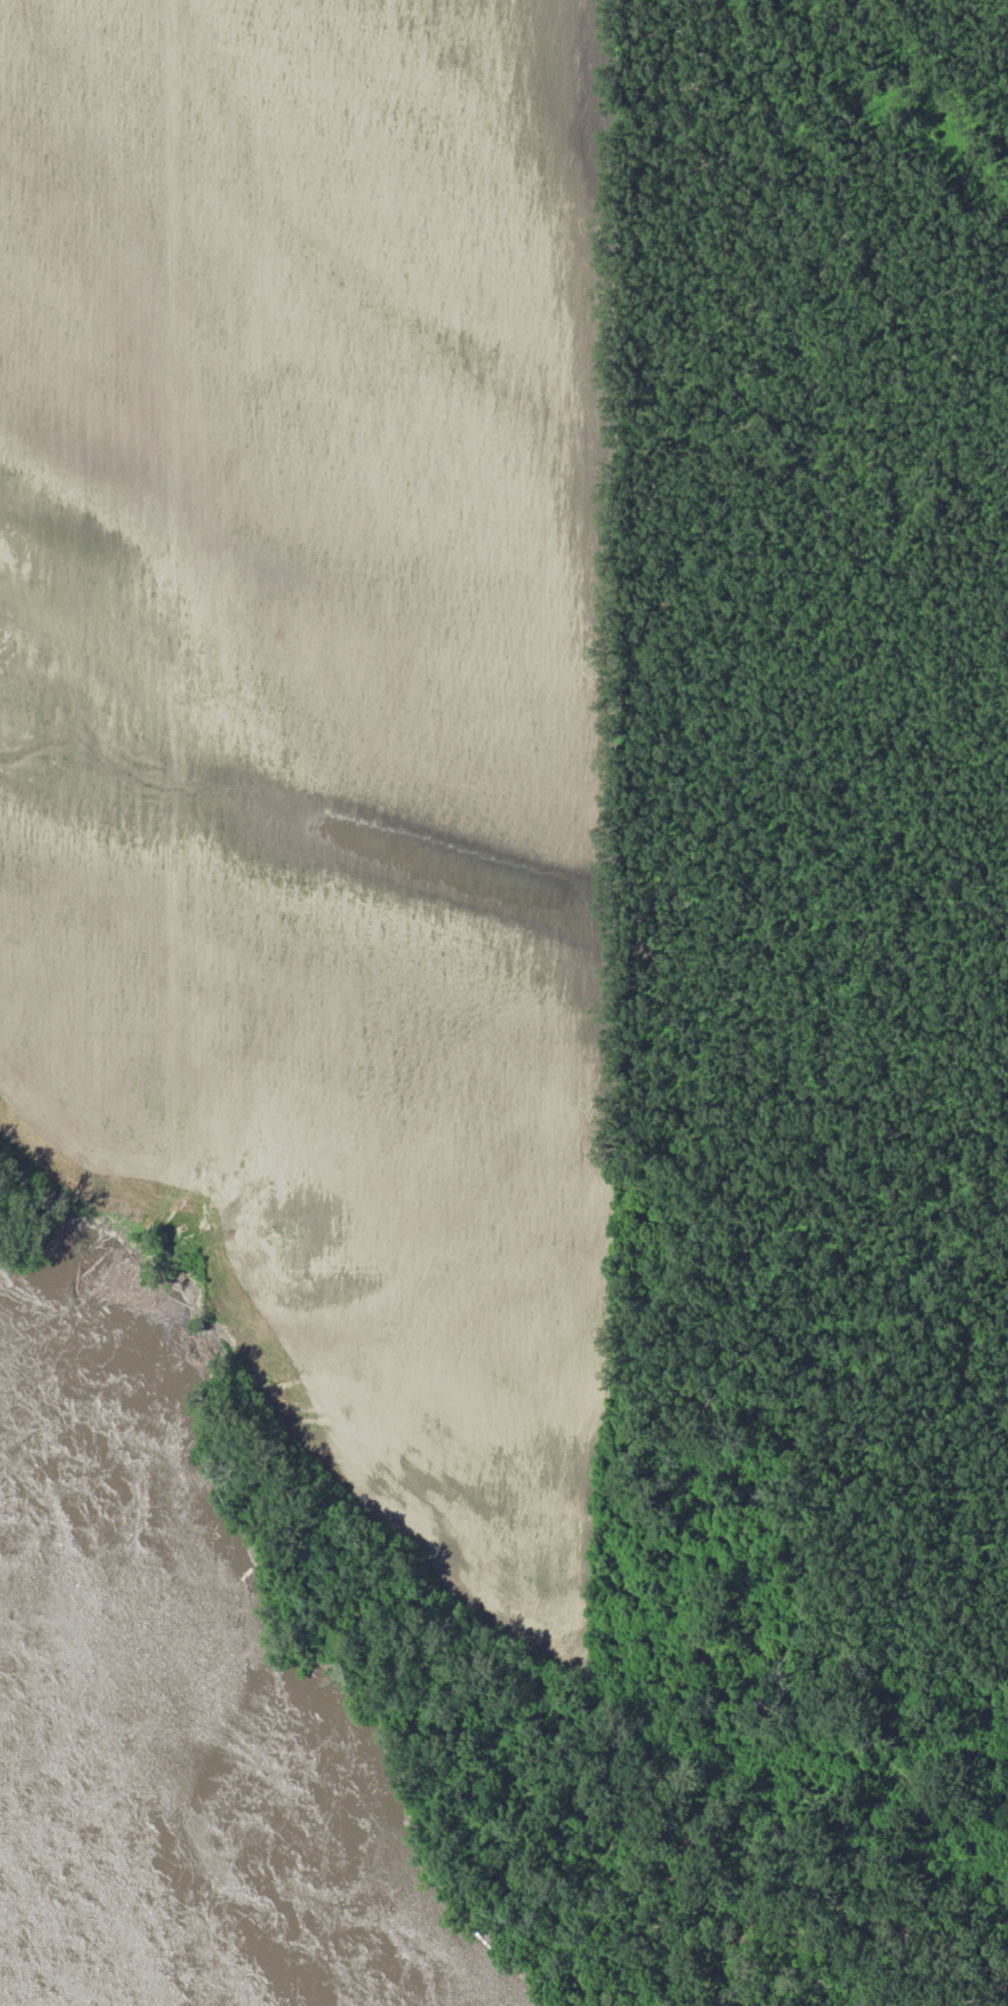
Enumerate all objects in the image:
crop: (323, 714)
river: (57, 1931)

